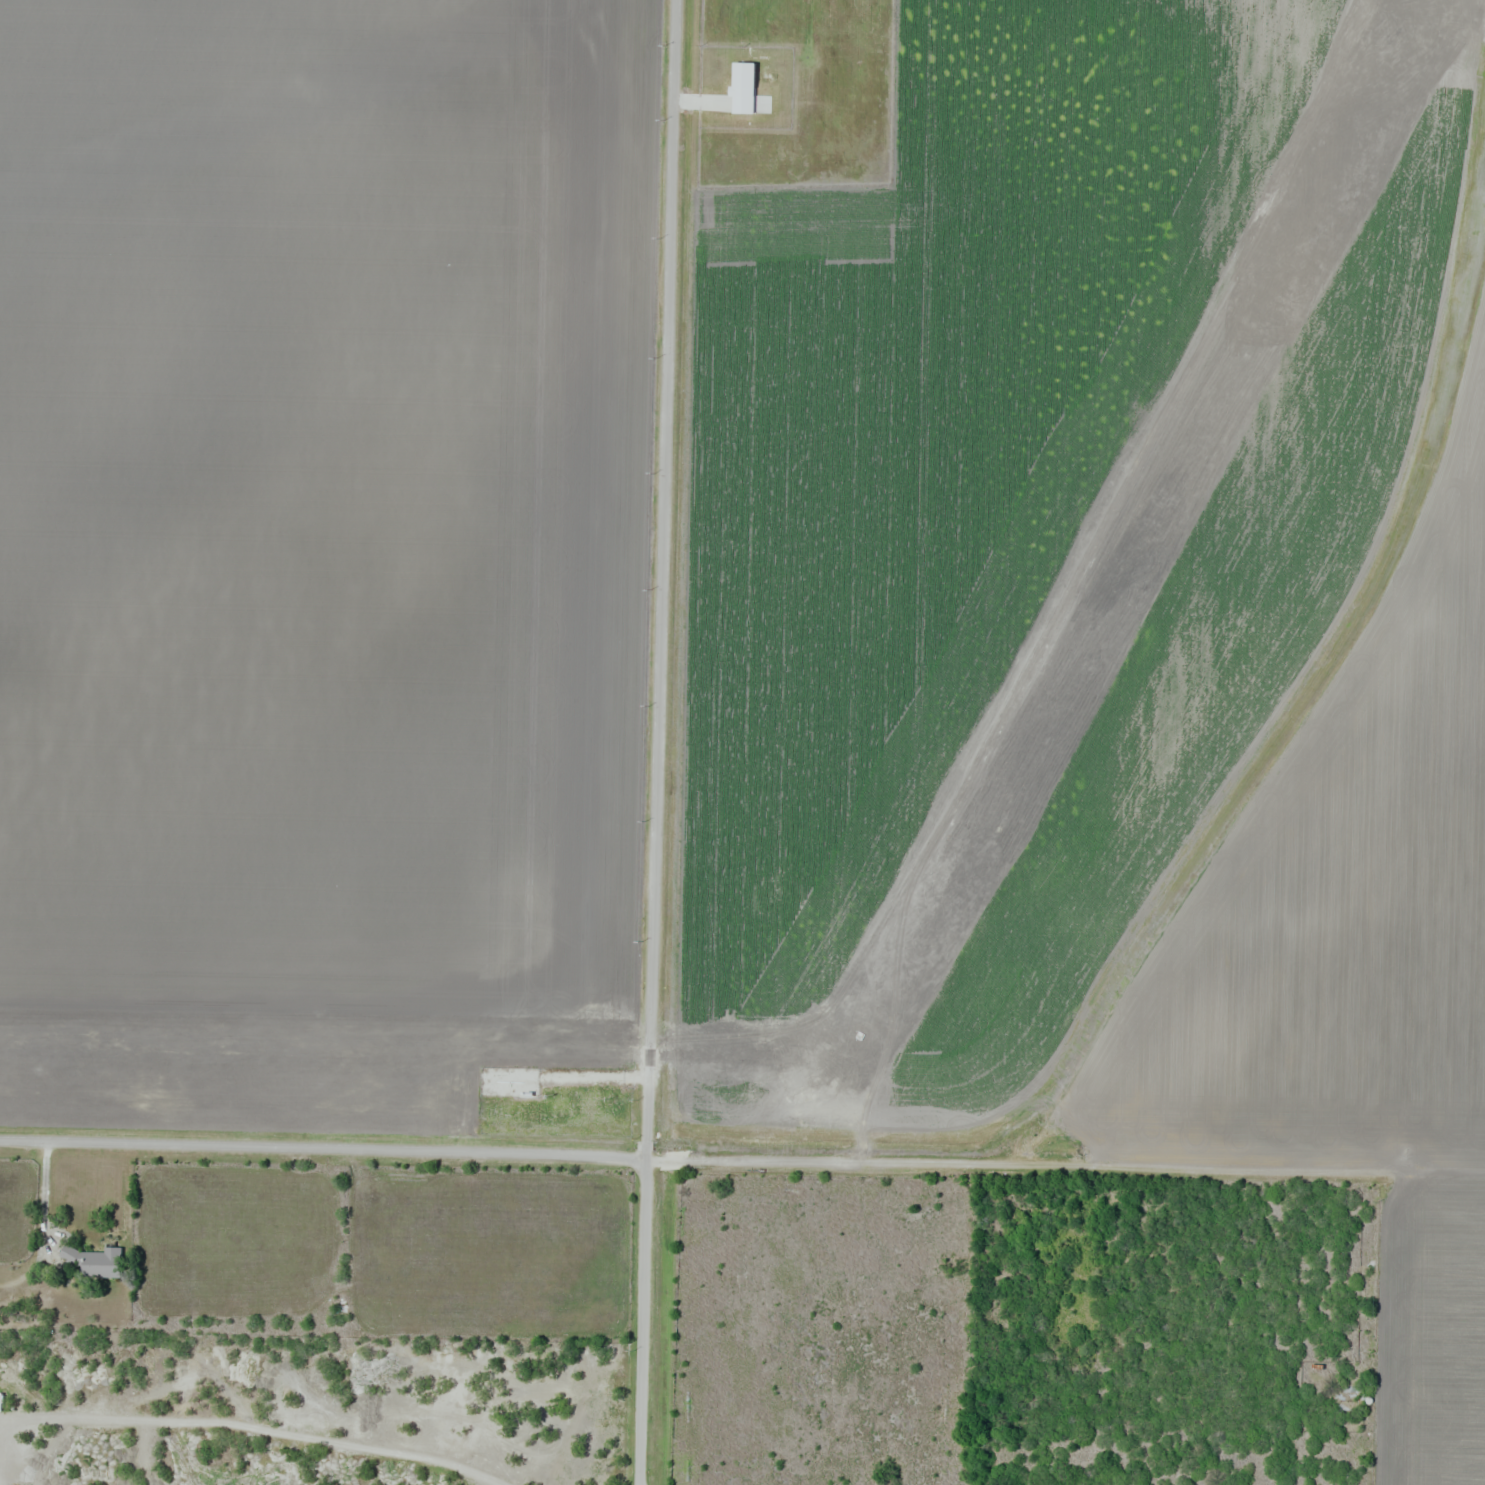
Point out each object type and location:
building: (745, 91)
road: (658, 742)
road: (593, 1079)
road: (324, 1150)
building: (99, 1263)
building: (1351, 1400)

